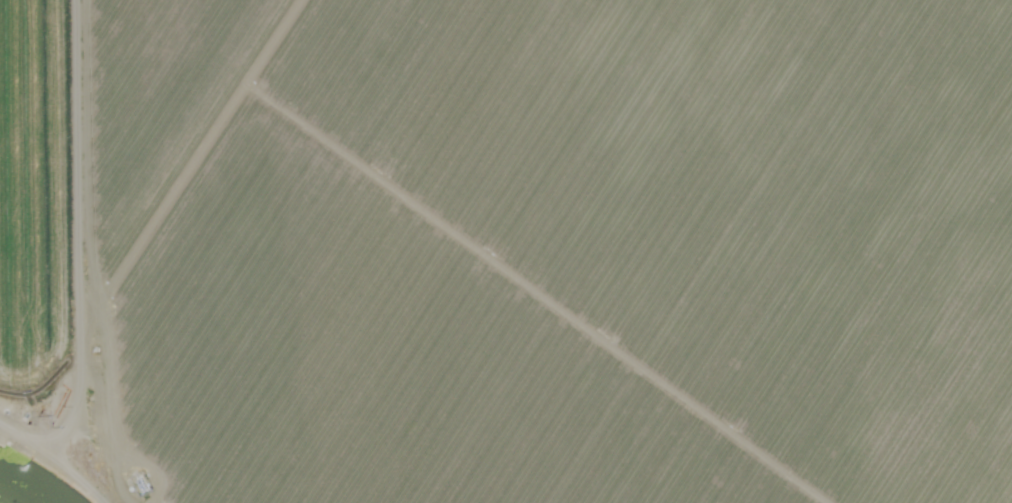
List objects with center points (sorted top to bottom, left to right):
crop: (51, 220)
crop: (557, 251)
road: (95, 422)

